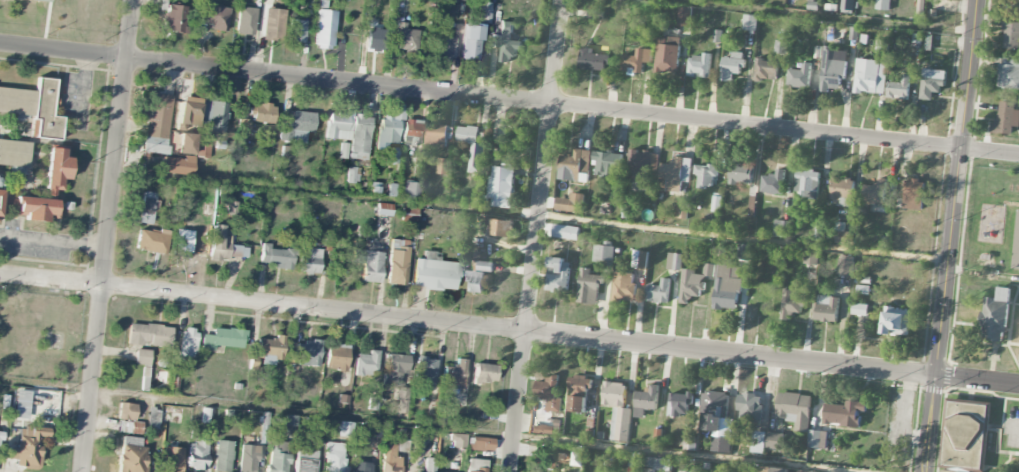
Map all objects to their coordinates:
building: (39, 0)
building: (460, 0)
building: (883, 5)
building: (847, 6)
building: (484, 12)
building: (214, 16)
road: (820, 16)
building: (684, 17)
building: (175, 18)
building: (245, 20)
building: (750, 23)
road: (46, 24)
building: (273, 24)
building: (325, 28)
building: (296, 30)
building: (1011, 36)
building: (406, 38)
building: (375, 39)
building: (506, 42)
building: (471, 43)
building: (880, 46)
building: (445, 47)
building: (667, 55)
building: (591, 60)
building: (636, 60)
building: (699, 66)
building: (732, 66)
building: (766, 70)
building: (831, 71)
building: (1008, 74)
building: (799, 77)
building: (870, 77)
road: (84, 82)
building: (932, 83)
building: (899, 89)
road: (509, 100)
building: (34, 107)
building: (188, 112)
building: (263, 113)
building: (213, 116)
building: (1006, 119)
building: (158, 123)
building: (297, 126)
building: (338, 126)
building: (244, 127)
building: (390, 133)
building: (411, 133)
building: (438, 136)
building: (359, 137)
building: (186, 143)
building: (473, 147)
building: (202, 150)
building: (14, 153)
building: (607, 164)
building: (178, 165)
building: (57, 167)
building: (444, 167)
building: (575, 167)
building: (642, 168)
building: (740, 172)
building: (352, 175)
building: (675, 175)
building: (705, 175)
building: (773, 183)
building: (502, 185)
building: (807, 185)
building: (0, 187)
building: (410, 190)
building: (842, 190)
building: (875, 192)
building: (914, 195)
building: (716, 203)
building: (570, 204)
building: (752, 206)
building: (147, 207)
building: (36, 208)
building: (384, 209)
building: (681, 210)
building: (409, 214)
road: (531, 215)
building: (501, 228)
building: (780, 229)
building: (565, 232)
road: (950, 235)
road: (108, 236)
road: (537, 236)
building: (844, 238)
building: (182, 239)
building: (152, 241)
road: (53, 242)
building: (225, 245)
building: (1016, 245)
building: (745, 252)
building: (604, 256)
building: (277, 257)
building: (810, 258)
building: (309, 259)
building: (639, 260)
building: (368, 262)
building: (396, 262)
building: (674, 262)
building: (845, 265)
building: (435, 274)
building: (558, 275)
building: (478, 278)
building: (695, 283)
building: (624, 287)
building: (589, 288)
building: (727, 288)
building: (659, 292)
building: (792, 303)
building: (827, 309)
building: (859, 310)
building: (995, 316)
building: (896, 322)
road: (509, 329)
building: (223, 338)
building: (187, 344)
building: (270, 349)
building: (307, 353)
building: (142, 357)
building: (336, 357)
building: (367, 363)
building: (395, 369)
building: (148, 371)
building: (485, 372)
building: (425, 373)
building: (455, 373)
building: (579, 393)
building: (549, 394)
building: (614, 394)
building: (402, 399)
building: (646, 401)
building: (679, 405)
building: (749, 408)
building: (794, 410)
building: (126, 411)
building: (154, 414)
building: (844, 414)
building: (717, 421)
road: (421, 425)
building: (620, 425)
building: (344, 429)
building: (536, 429)
building: (374, 430)
building: (965, 437)
building: (458, 440)
building: (817, 440)
building: (774, 441)
building: (758, 442)
building: (481, 444)
building: (27, 447)
building: (197, 454)
building: (131, 455)
building: (223, 456)
building: (277, 457)
building: (334, 457)
building: (247, 458)
building: (173, 459)
building: (389, 459)
building: (305, 461)
building: (428, 465)
building: (476, 465)
building: (657, 465)
building: (361, 467)
building: (779, 470)
building: (800, 471)

